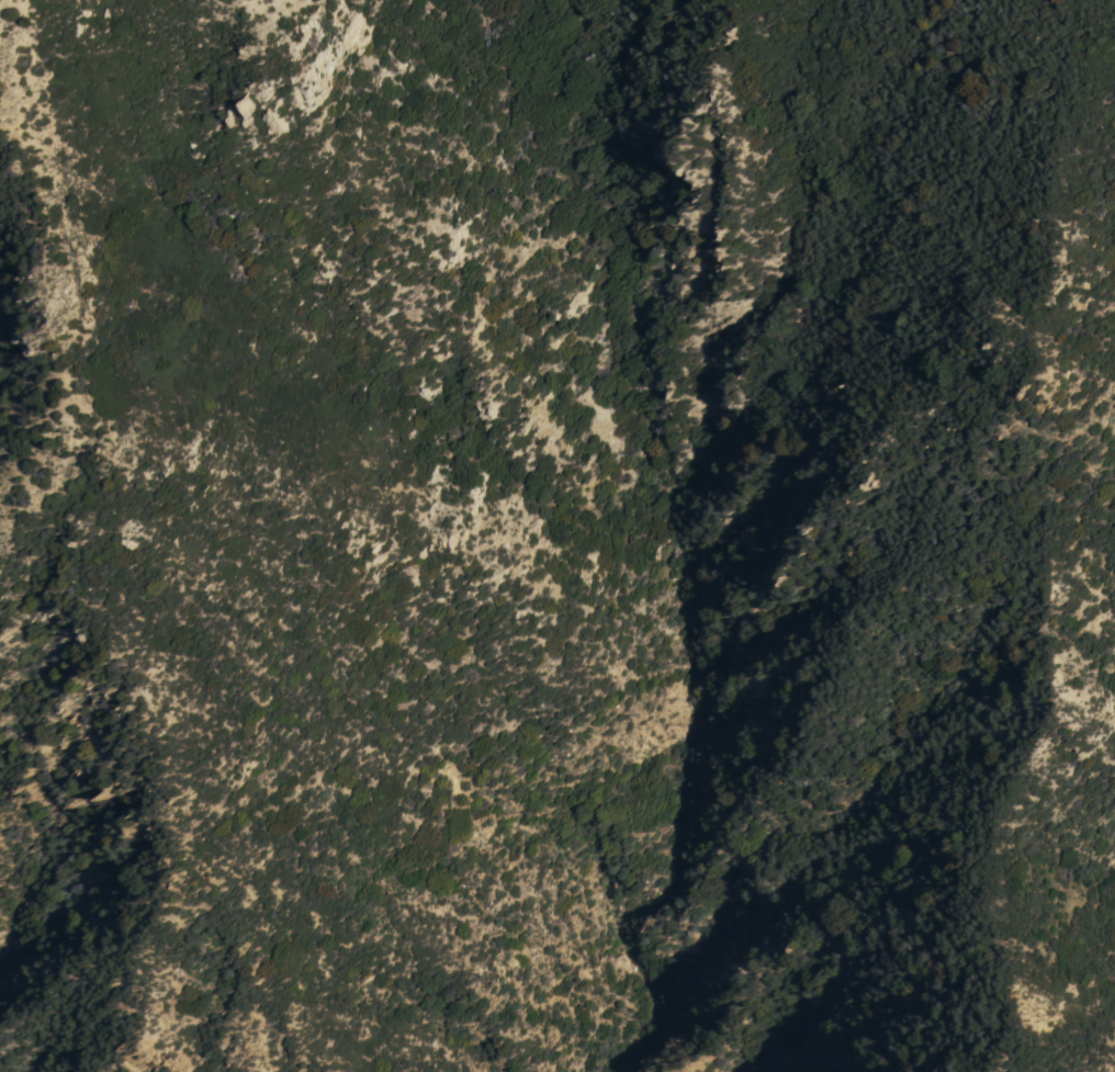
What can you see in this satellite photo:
road: (2, 1)
road: (8, 2)
road: (54, 289)

